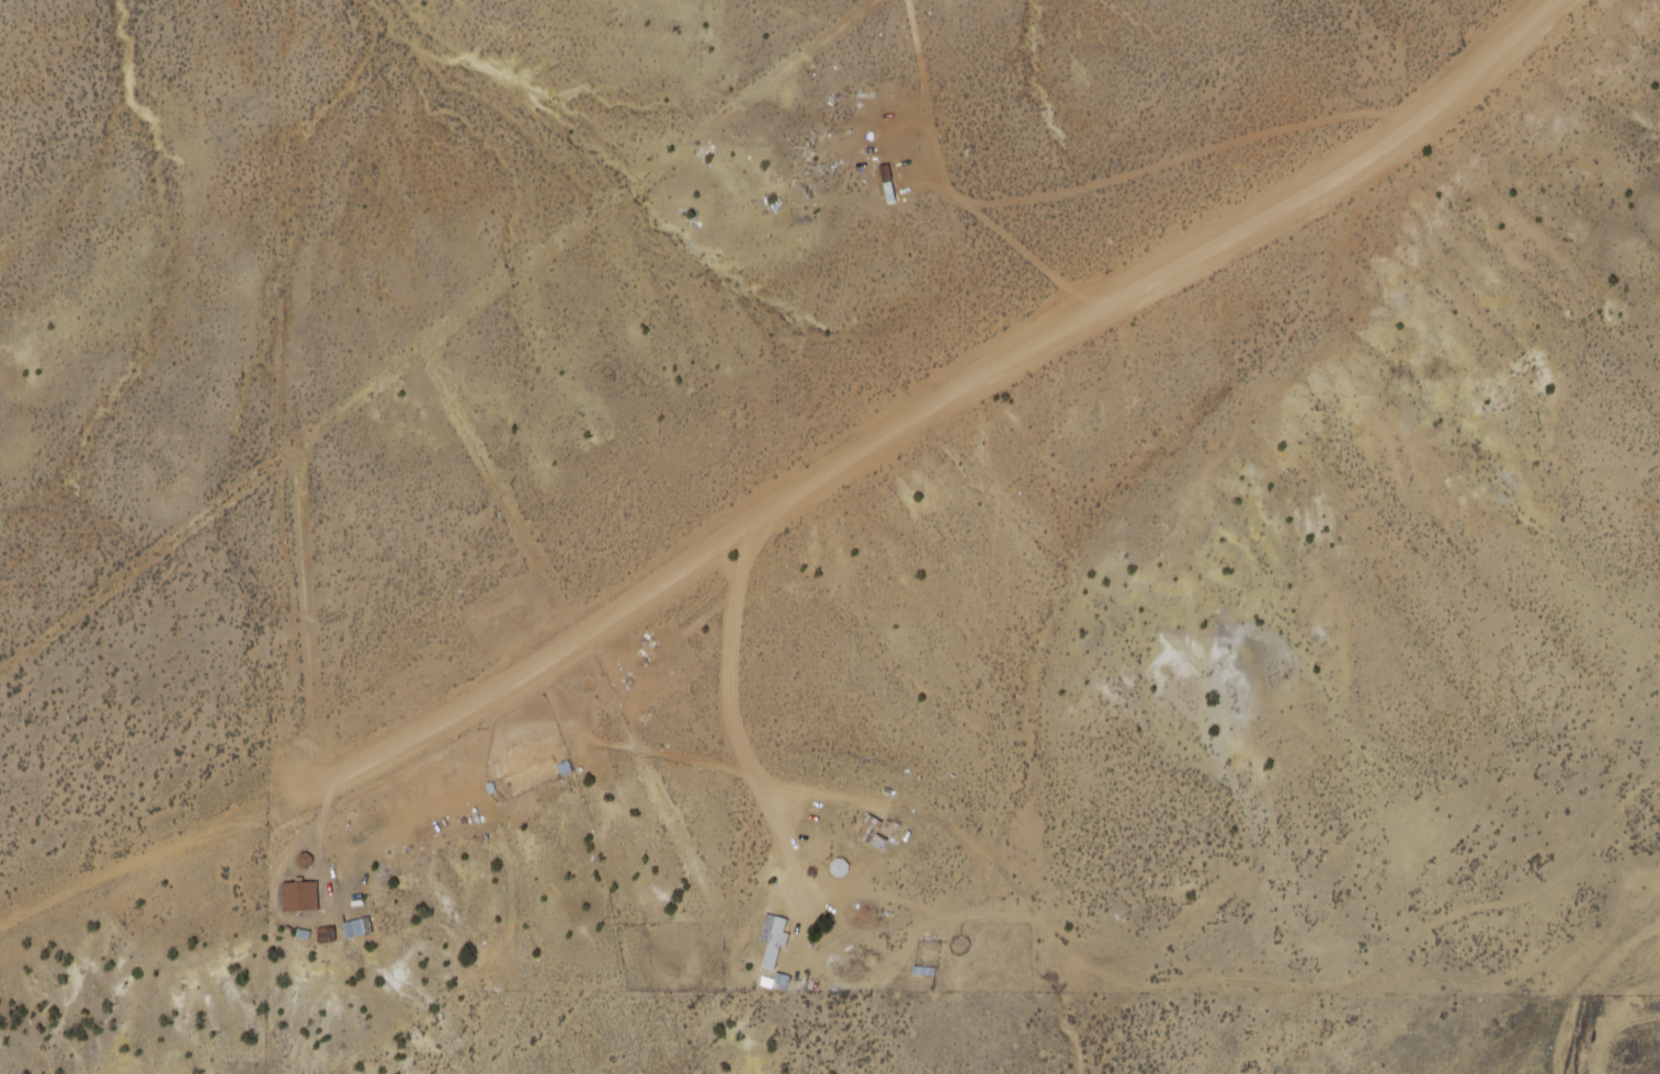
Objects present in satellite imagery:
road: (796, 493)
building: (868, 827)
building: (300, 894)
building: (355, 926)

